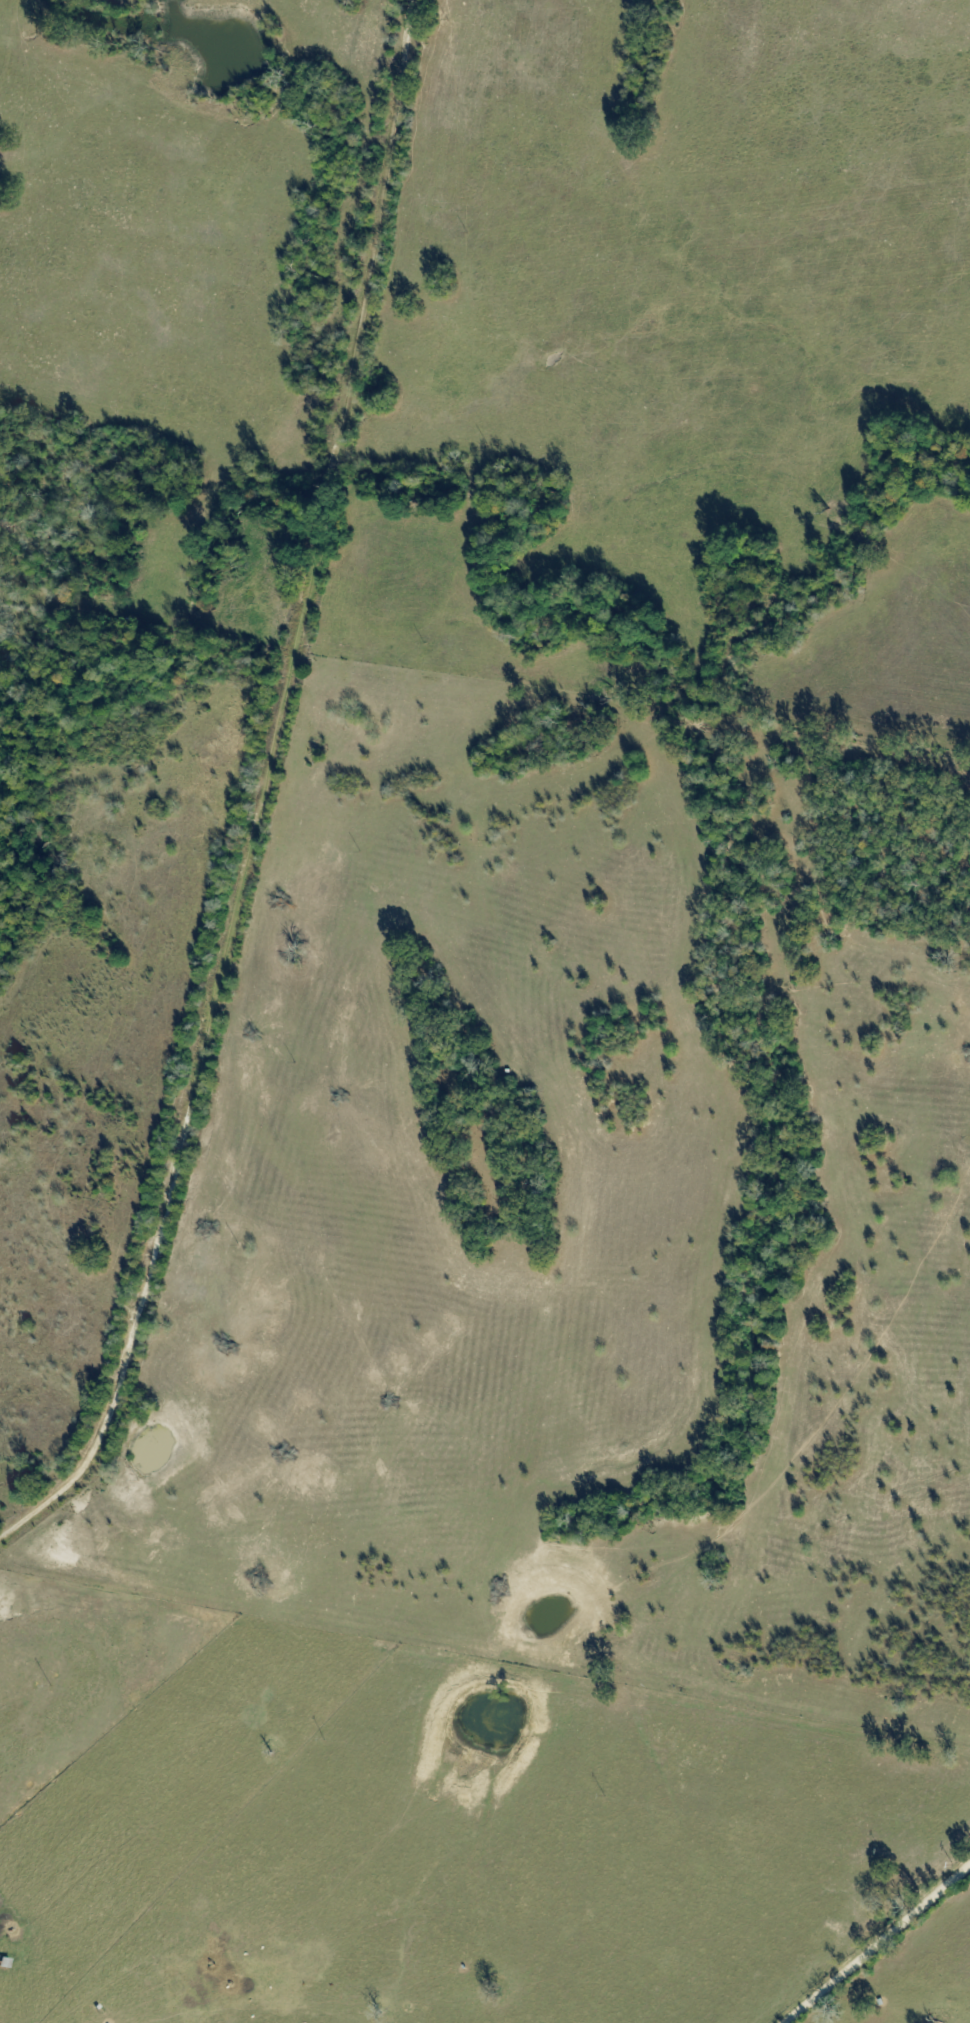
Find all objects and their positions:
road: (260, 792)
road: (877, 1942)

